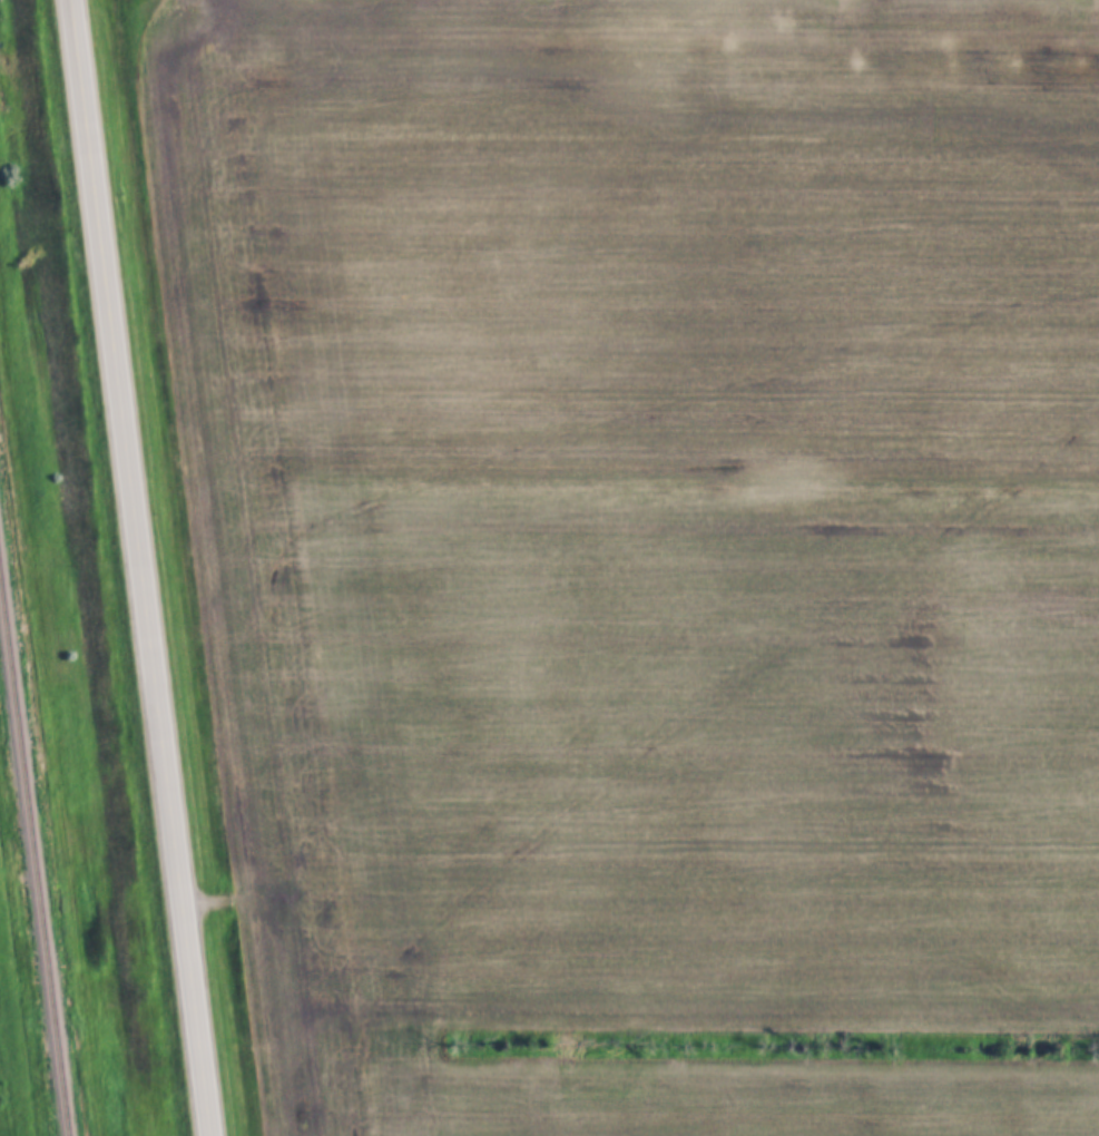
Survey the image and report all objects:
crop: (641, 552)
road: (138, 568)
railway: (32, 869)

